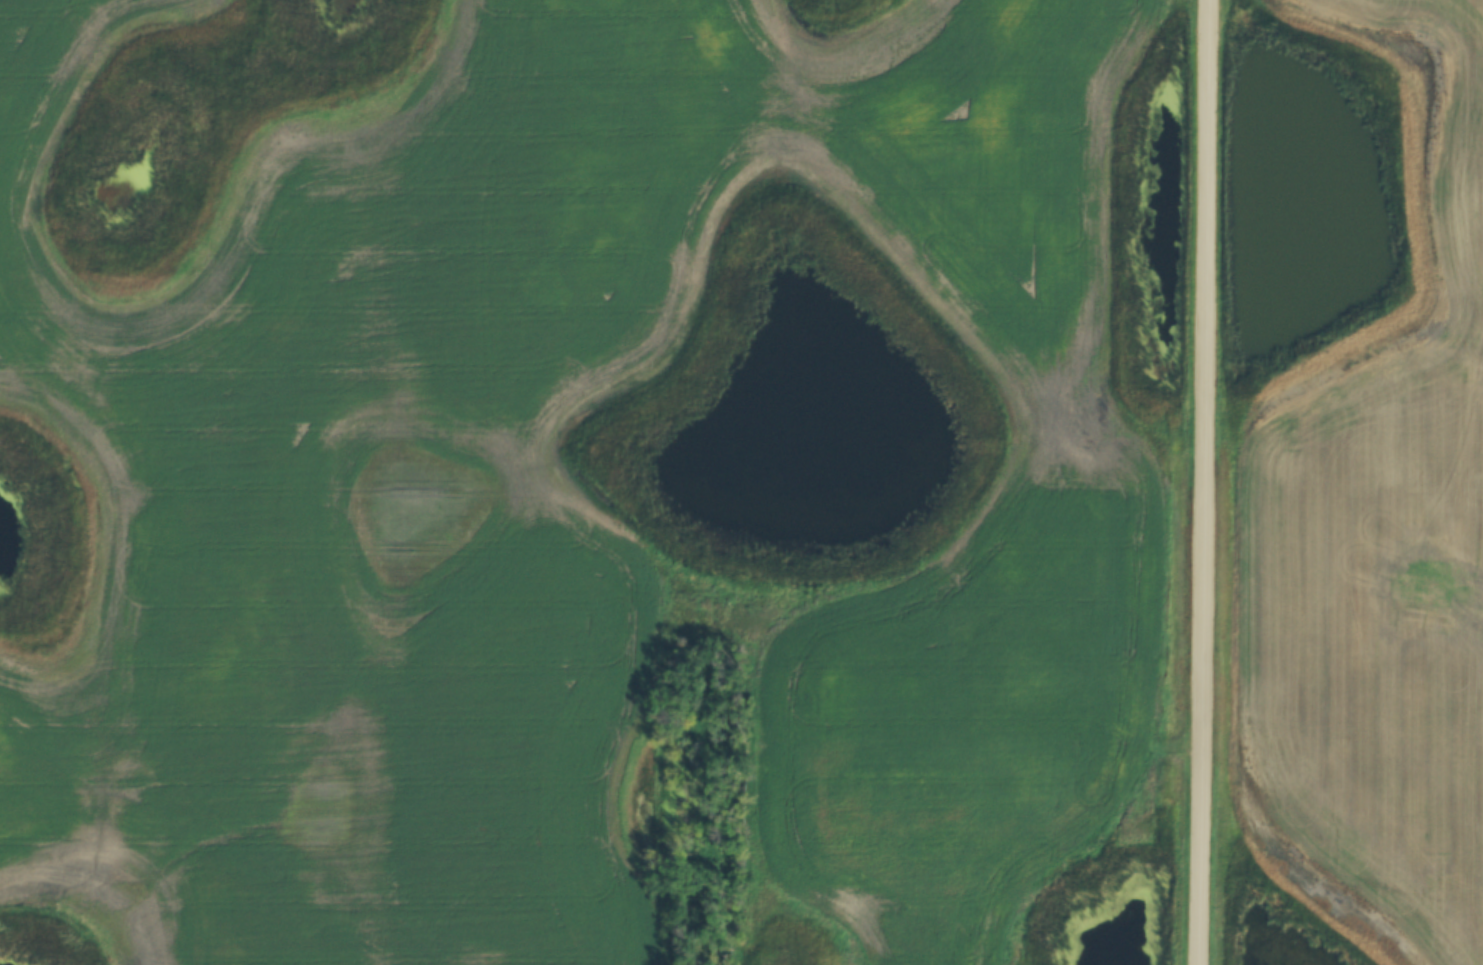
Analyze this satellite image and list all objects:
road: (1213, 482)

